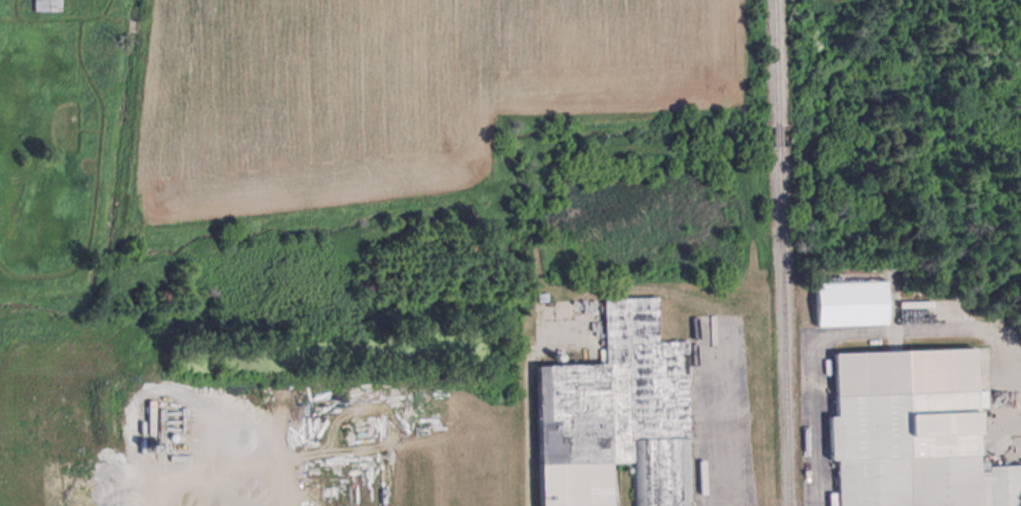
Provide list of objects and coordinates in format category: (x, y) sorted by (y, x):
building: (47, 5)
railway: (778, 63)
railway: (780, 136)
building: (851, 303)
railway: (784, 325)
building: (618, 415)
building: (913, 432)

